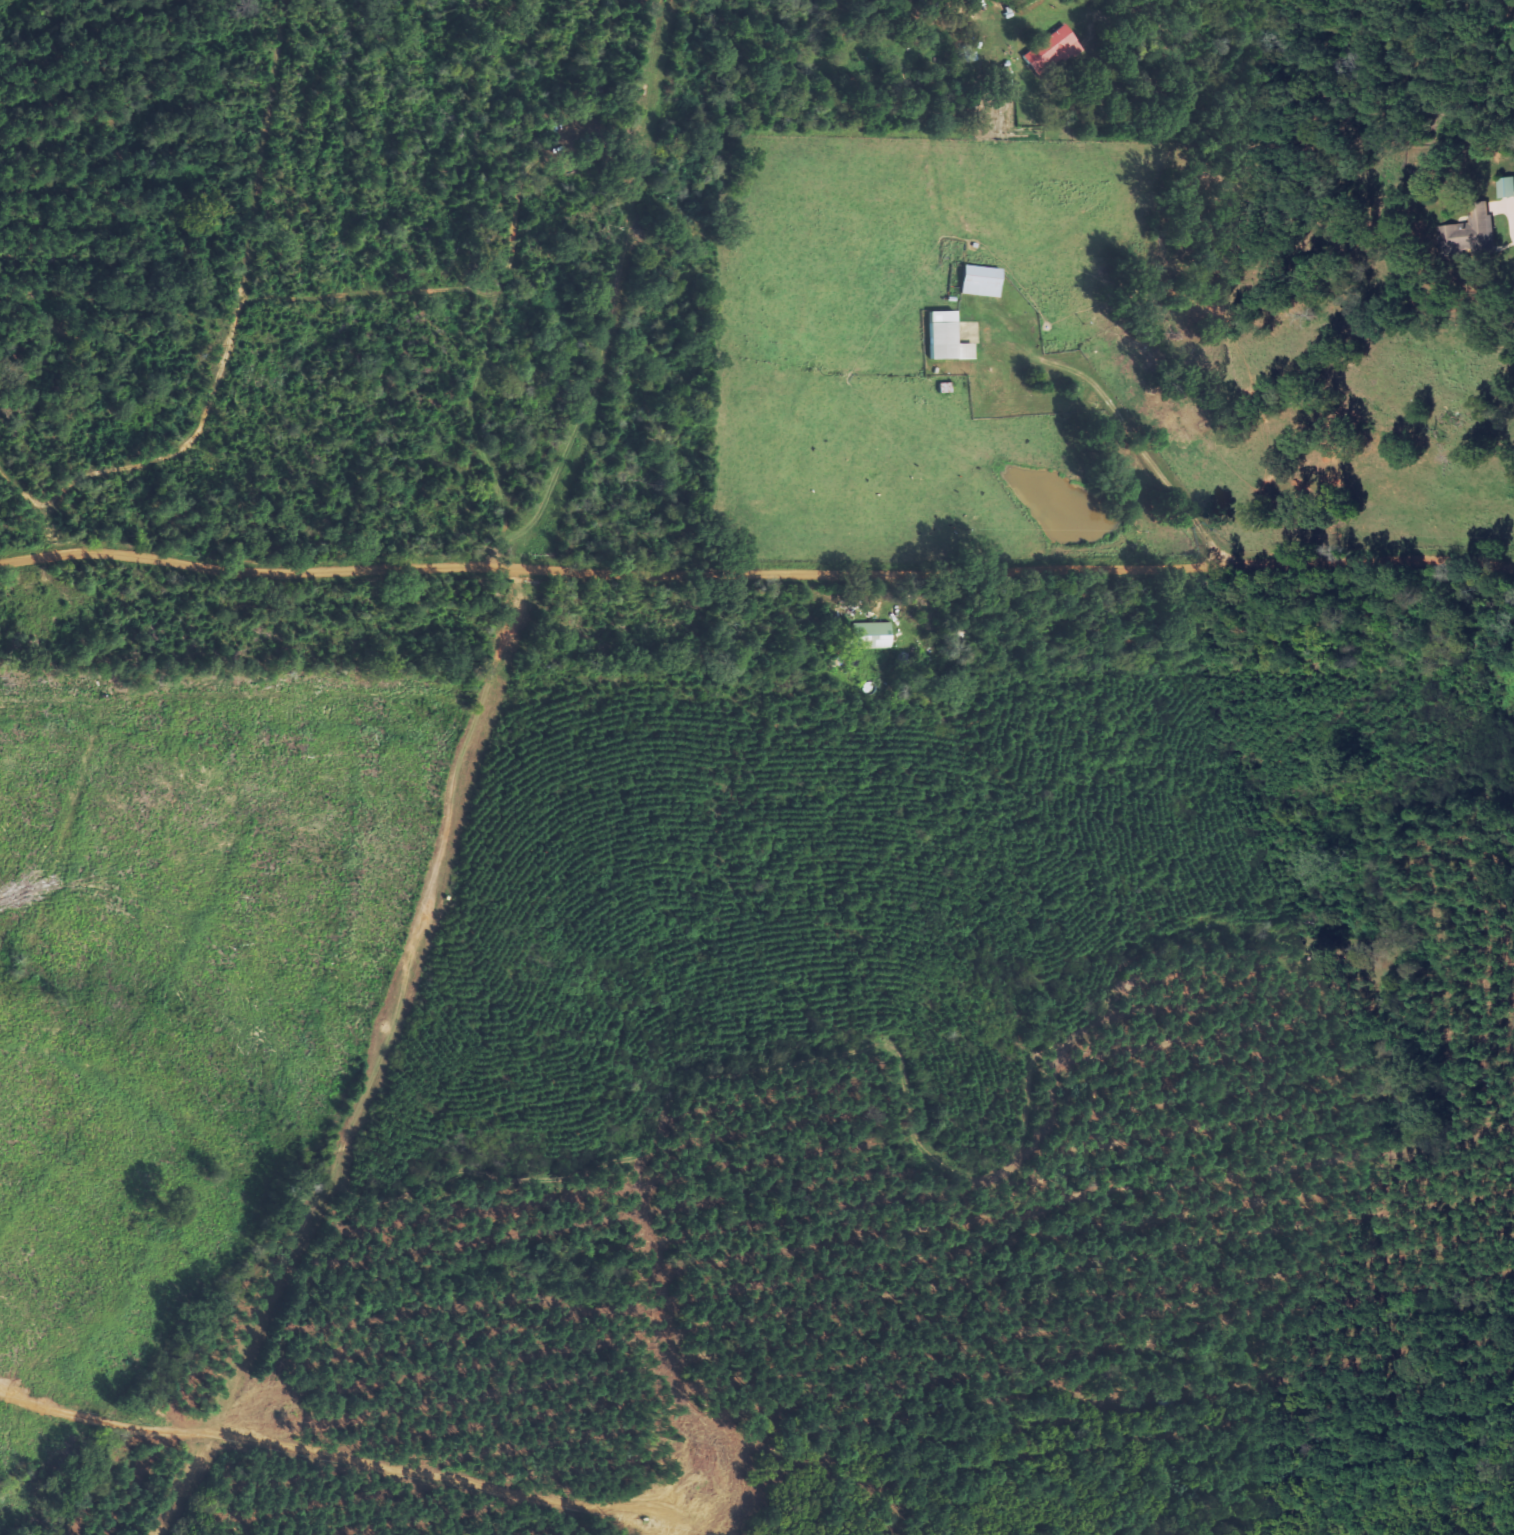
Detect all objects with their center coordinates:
building: (1050, 51)
building: (1506, 188)
building: (1474, 230)
building: (980, 282)
building: (946, 339)
road: (34, 517)
road: (756, 573)
building: (871, 637)

